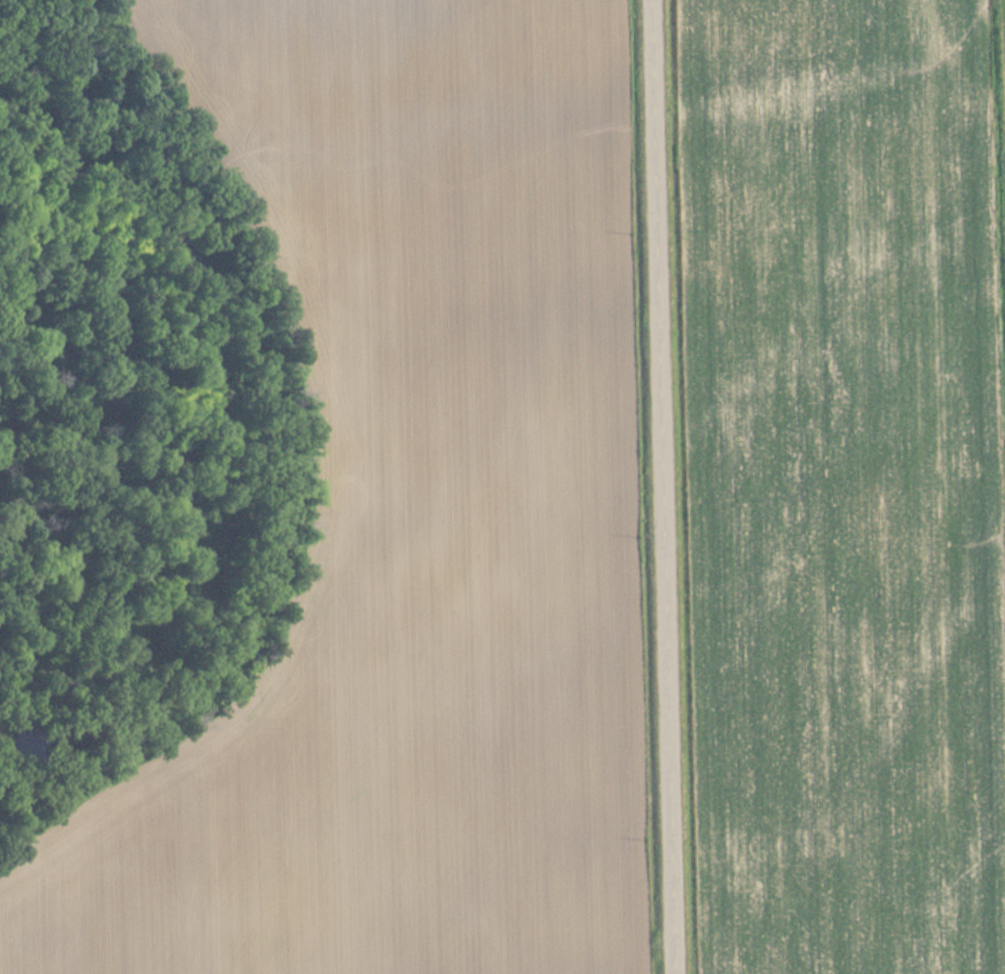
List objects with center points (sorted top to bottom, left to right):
river: (221, 413)
road: (673, 486)

